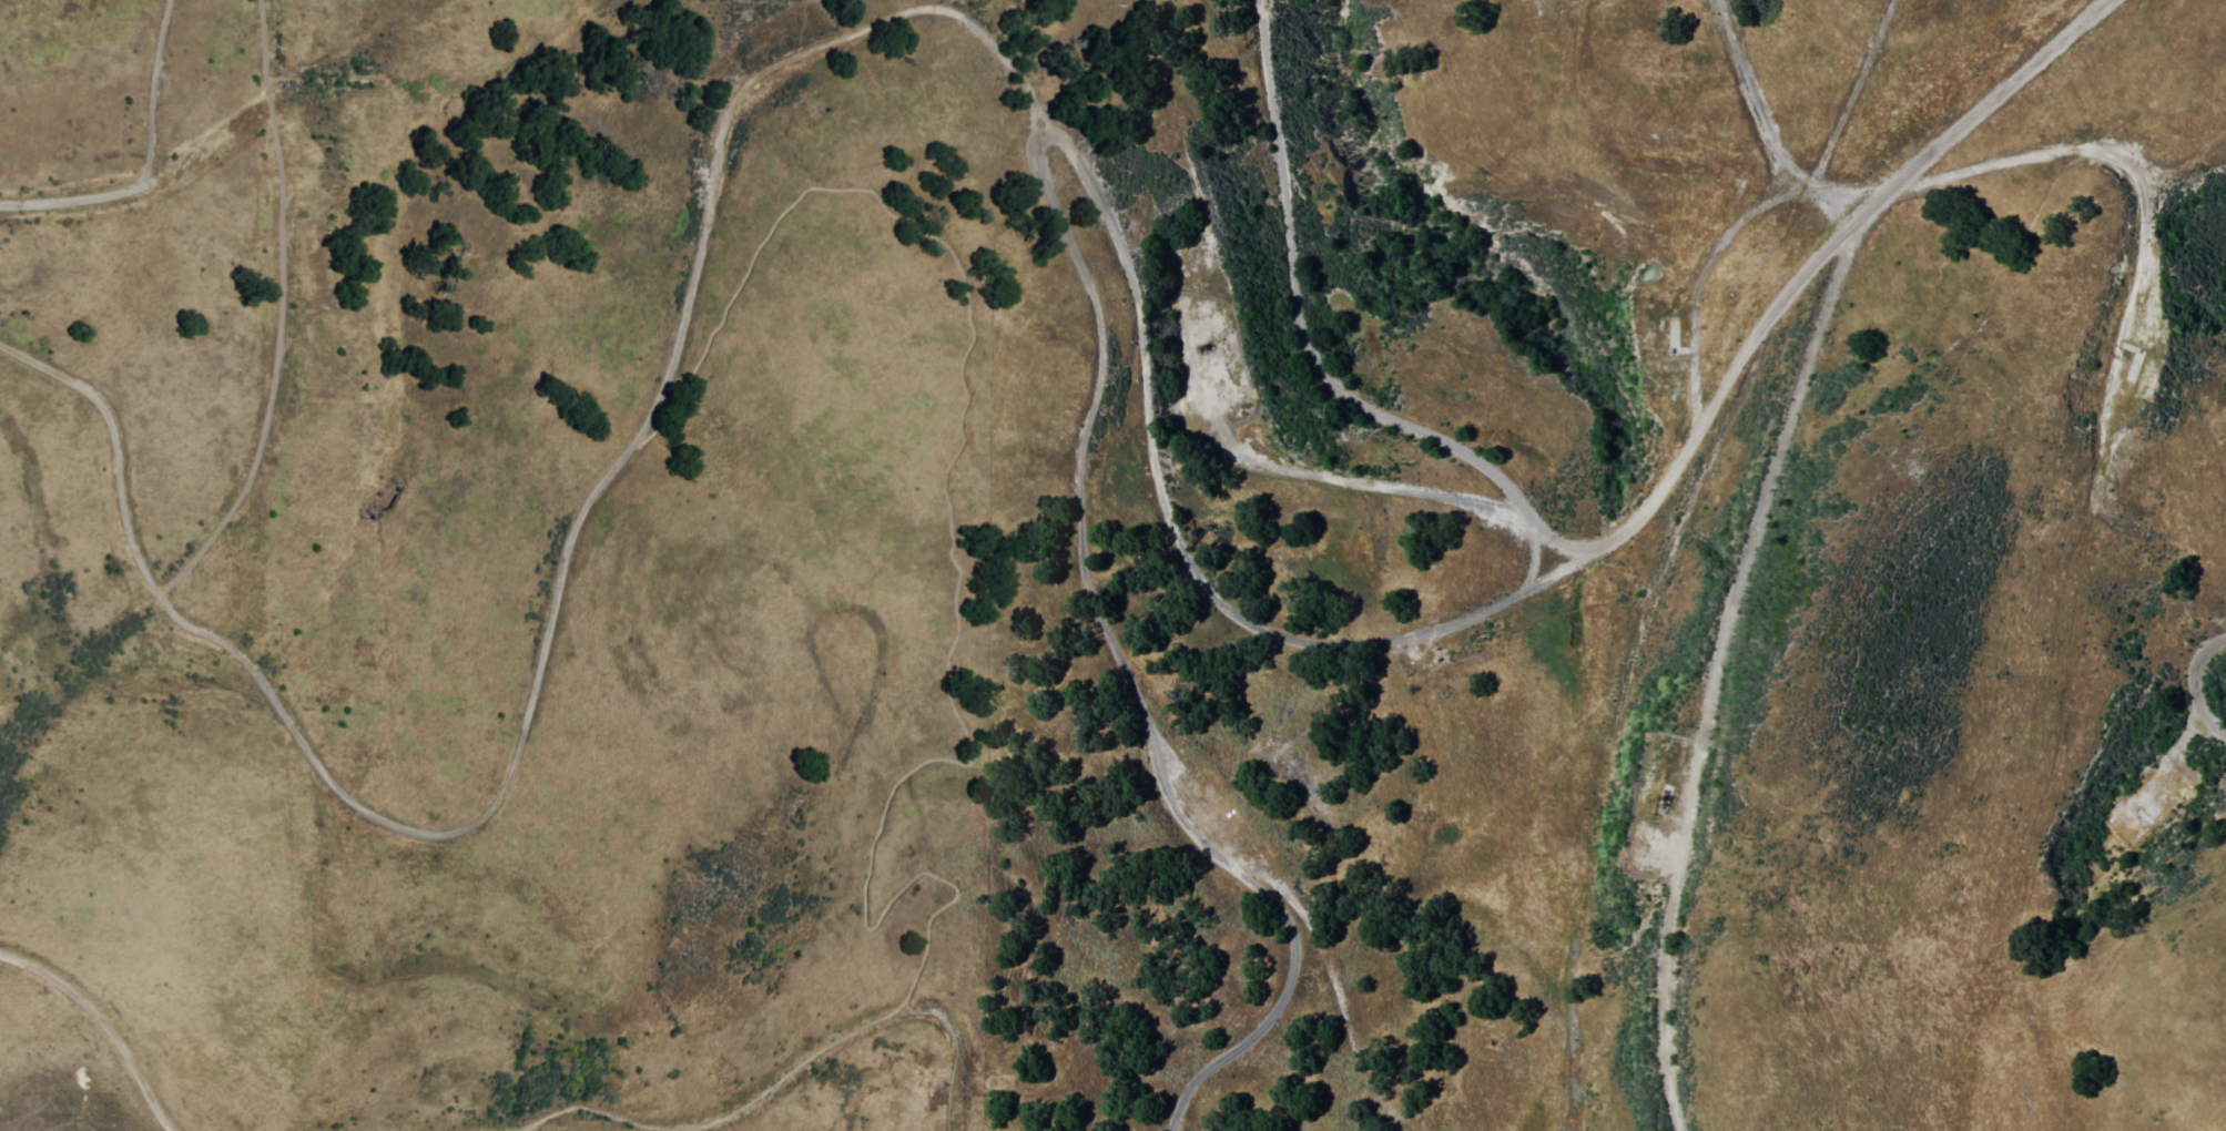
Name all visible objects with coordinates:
road: (1767, 128)
road: (2103, 150)
road: (139, 161)
road: (267, 307)
road: (1765, 318)
road: (1310, 354)
road: (1693, 400)
road: (1758, 505)
road: (1264, 629)
road: (1106, 633)
road: (539, 665)
road: (2191, 683)
road: (109, 1022)
road: (855, 1031)

